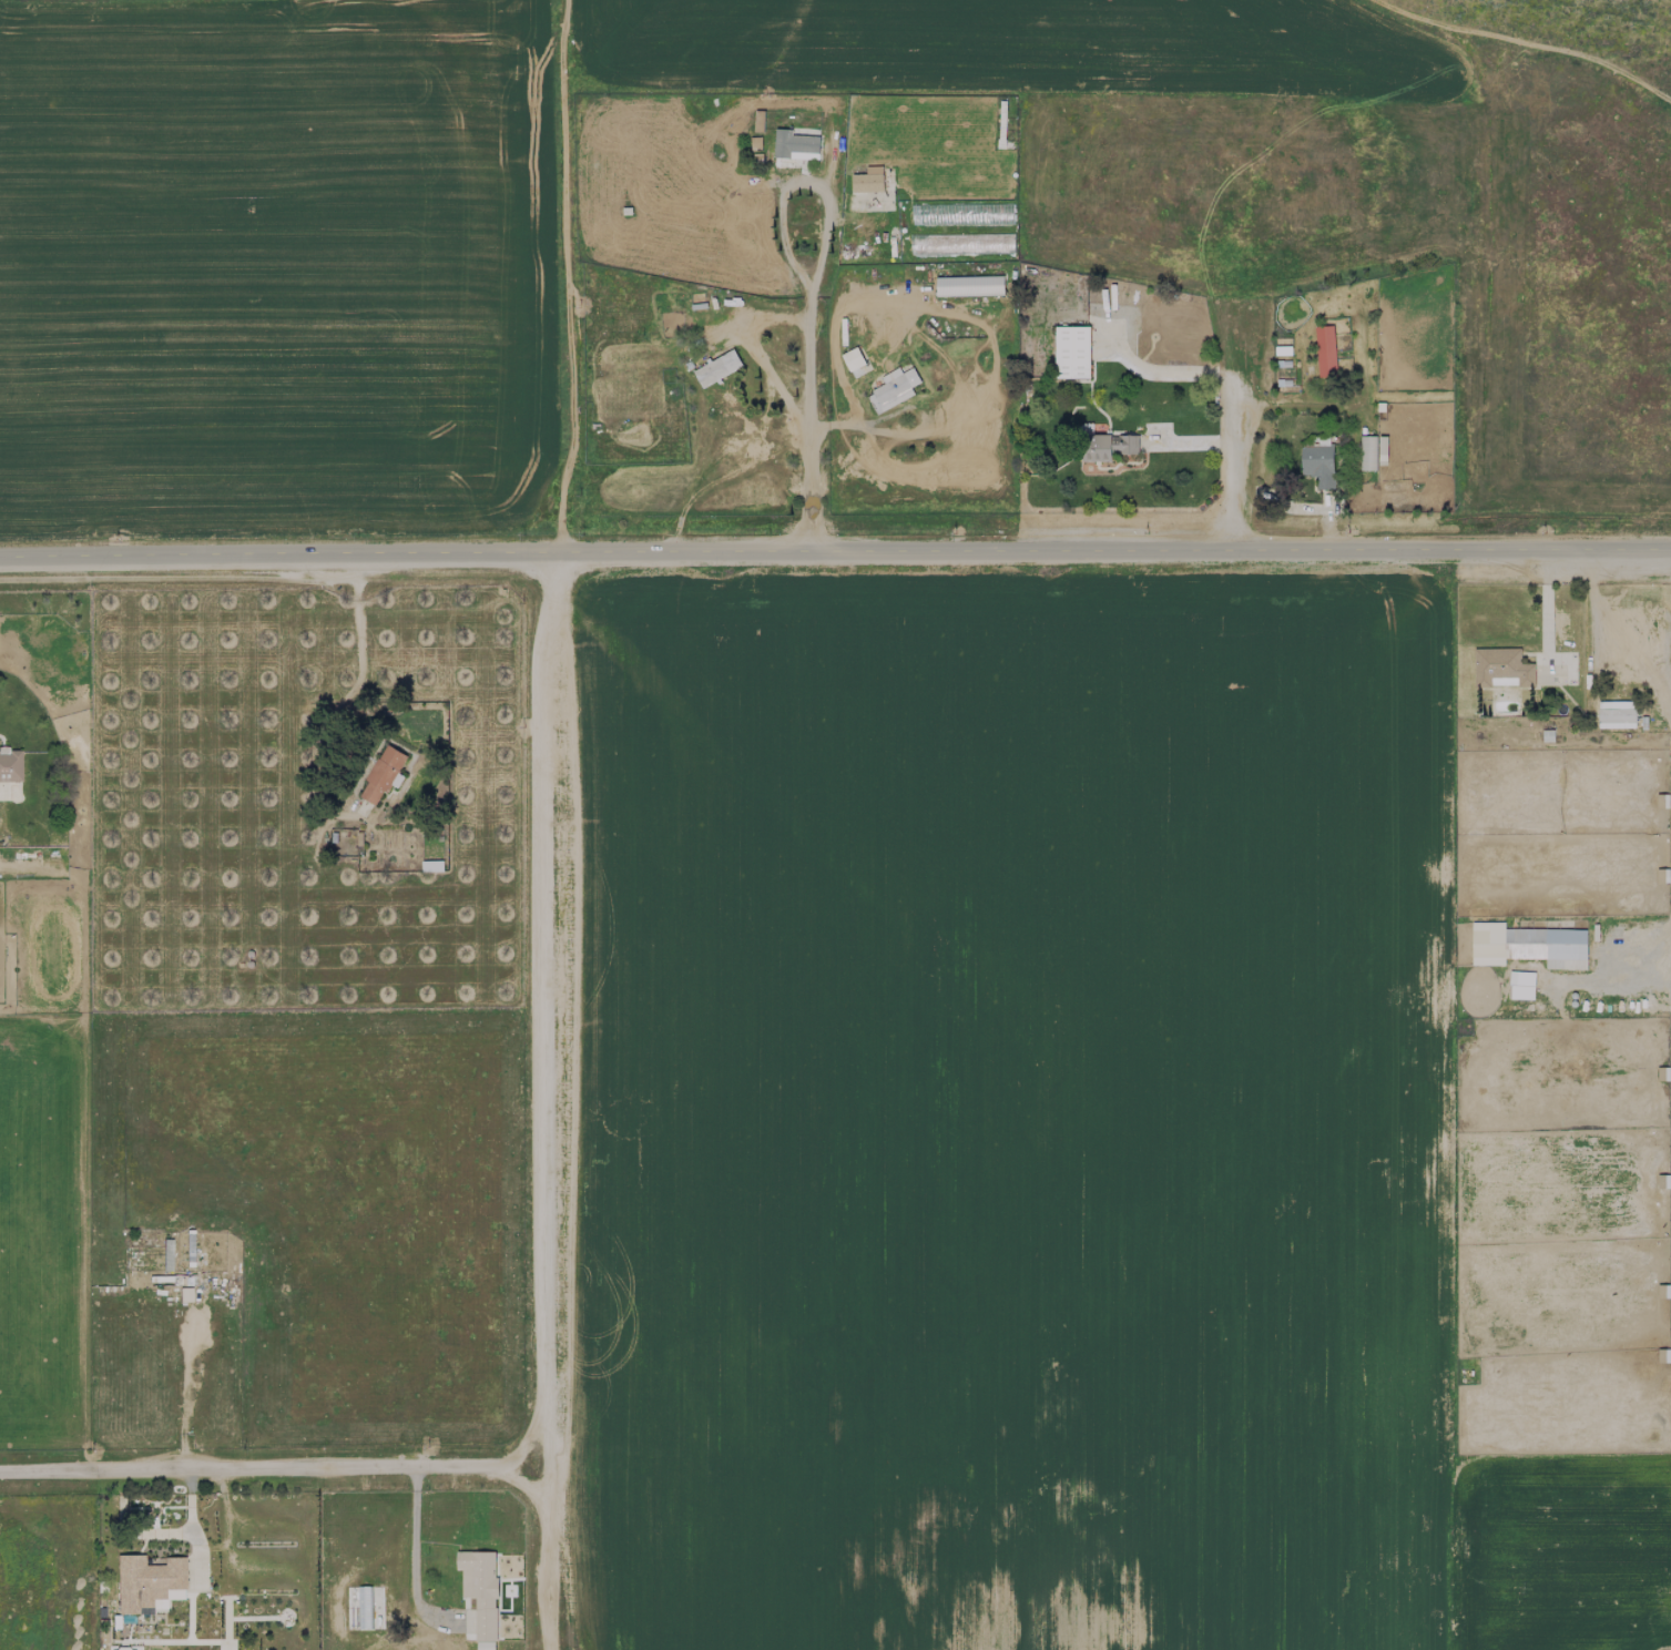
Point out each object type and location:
building: (758, 121)
building: (795, 145)
building: (868, 181)
road: (591, 275)
building: (970, 285)
building: (1325, 350)
building: (1072, 352)
building: (853, 358)
building: (717, 368)
road: (1166, 373)
road: (808, 387)
building: (893, 389)
road: (1239, 434)
building: (1109, 447)
building: (1373, 452)
building: (1318, 465)
road: (835, 550)
building: (1501, 668)
building: (1617, 714)
building: (10, 766)
building: (383, 774)
building: (432, 866)
building: (1528, 946)
building: (1521, 985)
road: (556, 1099)
road: (189, 1387)
road: (277, 1468)
road: (190, 1527)
road: (412, 1559)
building: (147, 1583)
building: (480, 1596)
building: (361, 1607)

